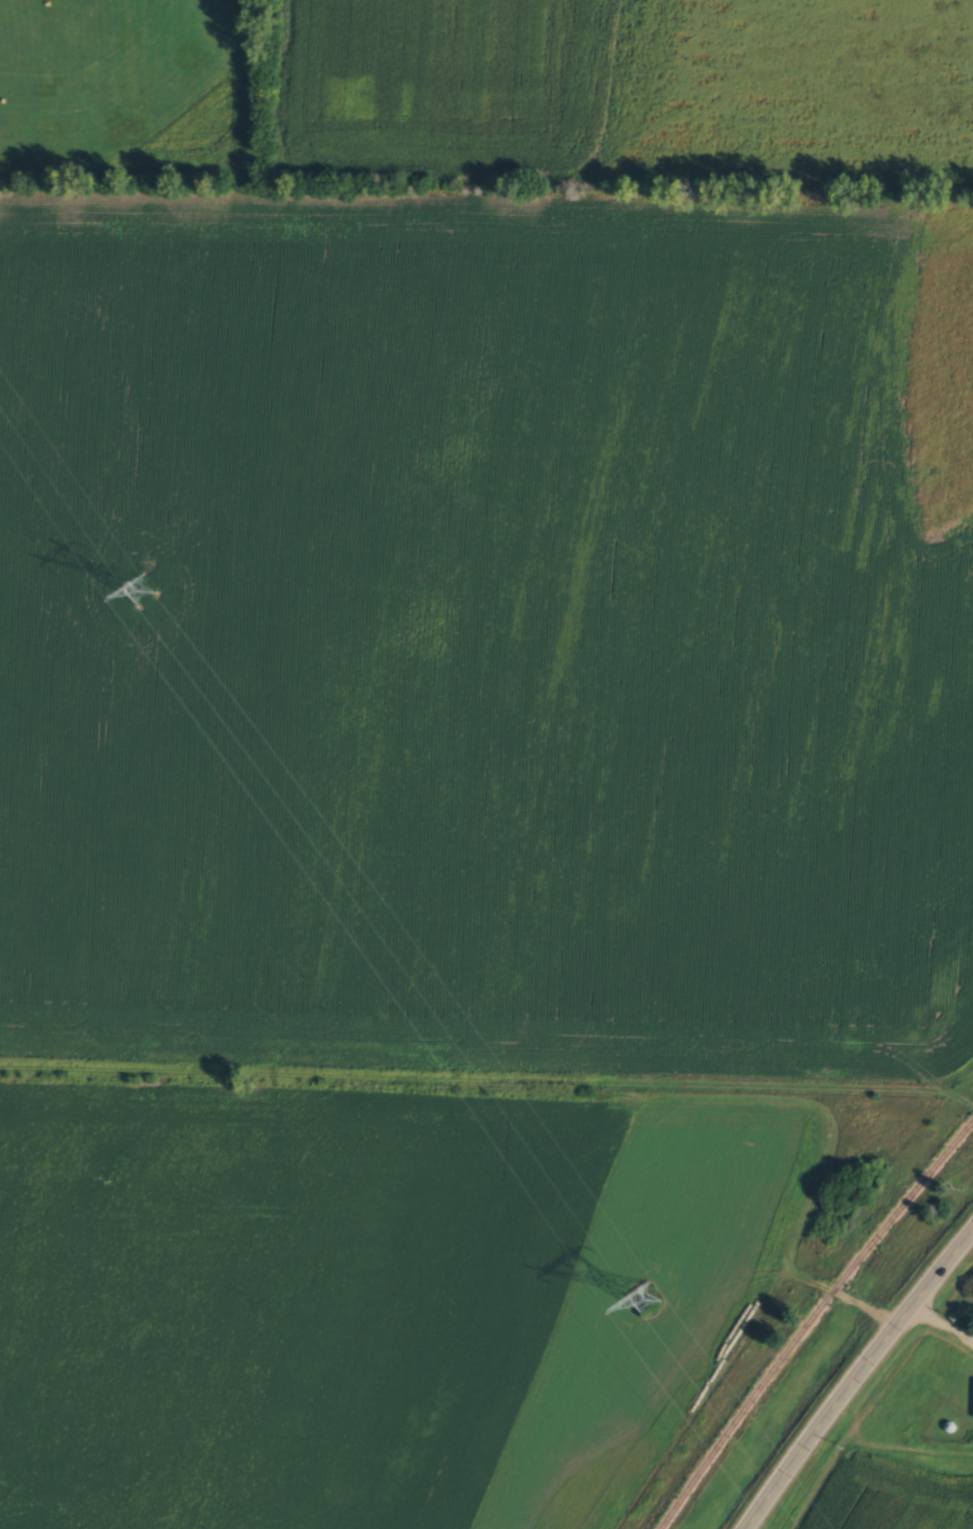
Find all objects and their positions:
power tower: (150, 578)
road: (488, 1078)
road: (793, 1271)
power tower: (652, 1294)
railway: (807, 1315)
road: (852, 1372)

